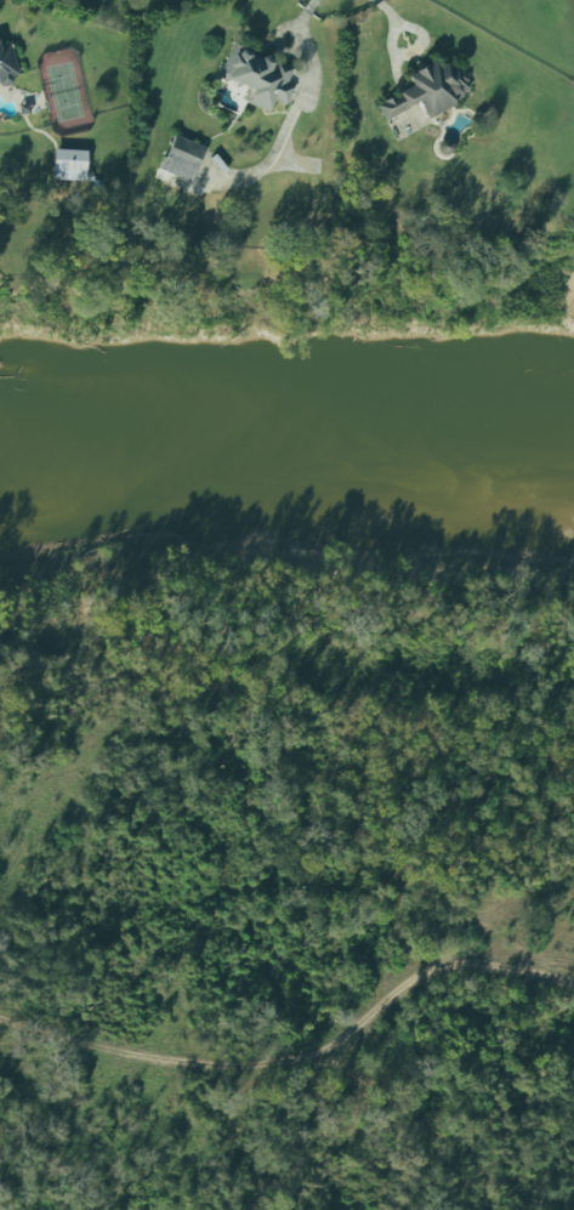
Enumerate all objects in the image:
road: (386, 12)
road: (413, 52)
building: (5, 64)
road: (307, 73)
building: (255, 78)
building: (420, 100)
building: (181, 159)
building: (68, 165)
river: (286, 425)
road: (299, 1056)

